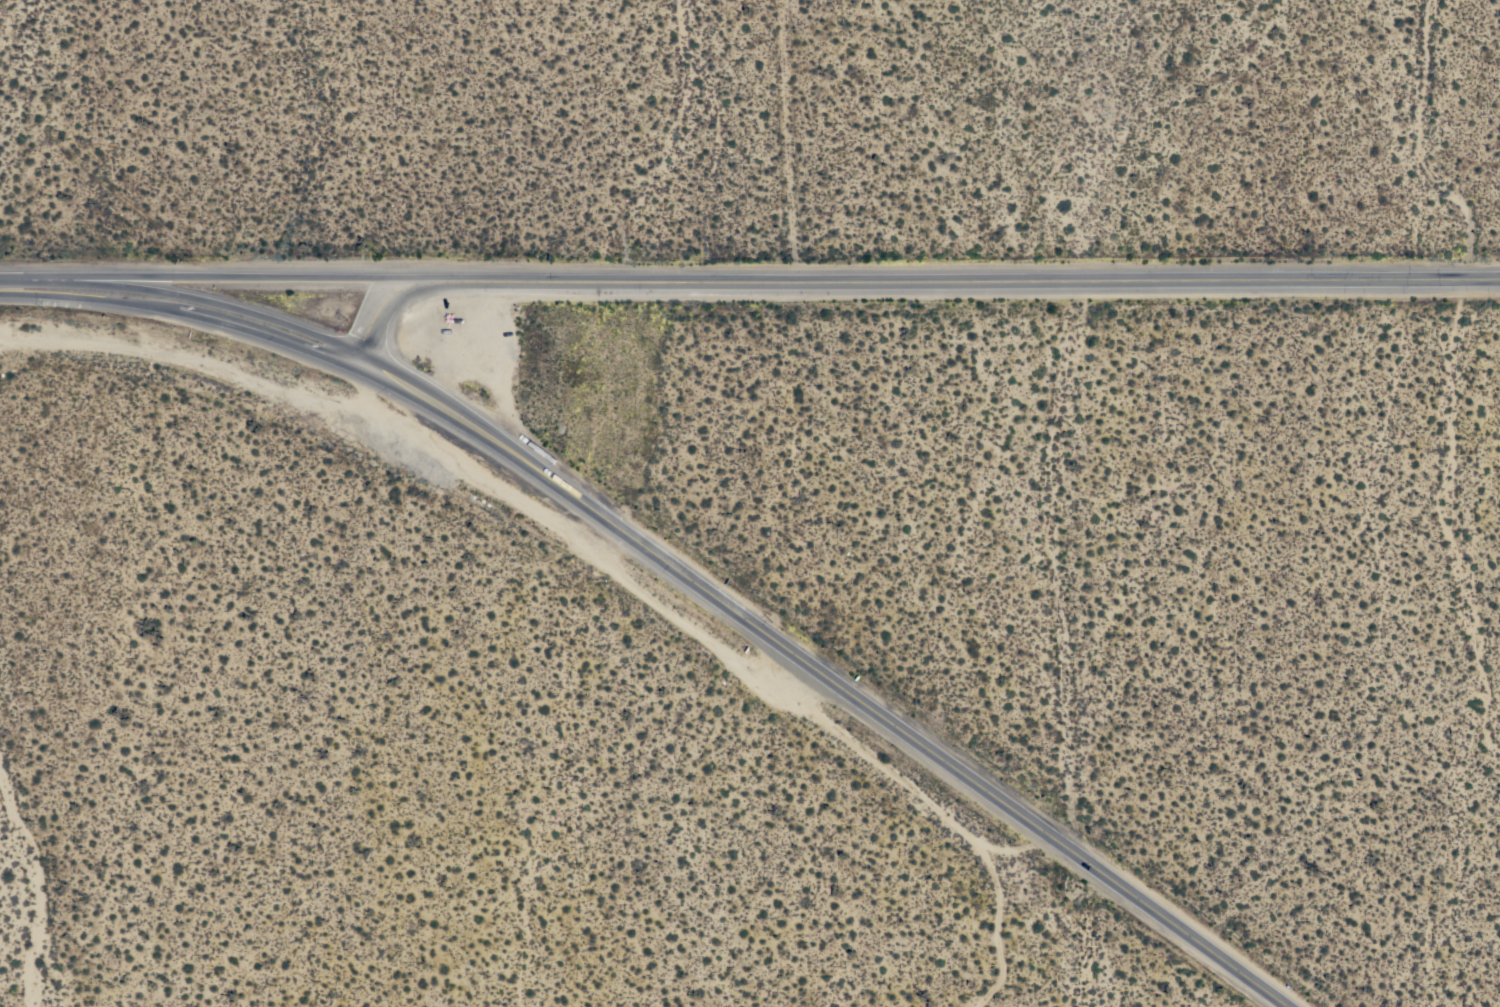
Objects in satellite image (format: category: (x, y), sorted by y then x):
road: (951, 278)
road: (201, 279)
road: (180, 302)
road: (374, 317)
road: (823, 679)

